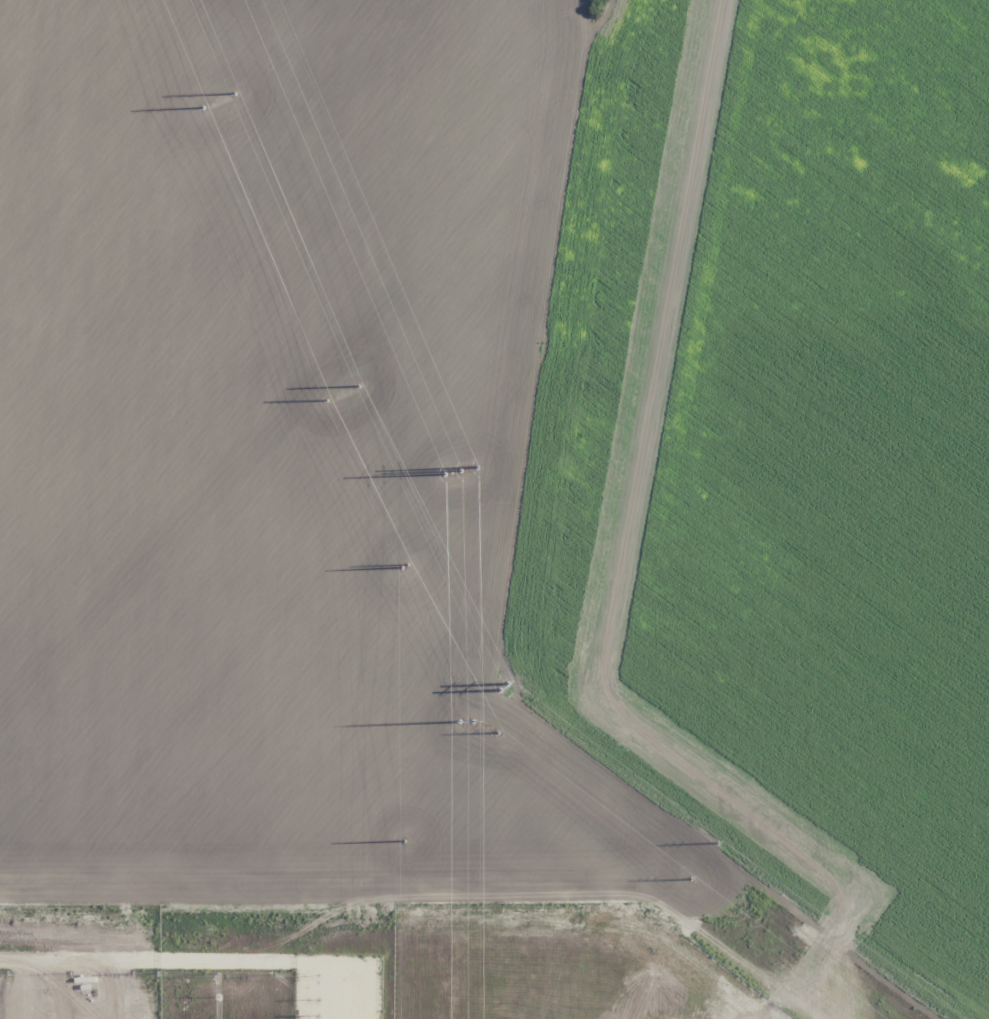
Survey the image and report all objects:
power tower: (233, 93)
power tower: (202, 107)
power tower: (357, 385)
power tower: (325, 399)
power tower: (463, 482)
crop: (494, 509)
power tower: (403, 563)
power tower: (495, 682)
power tower: (464, 713)
power tower: (495, 732)
power tower: (402, 842)
power tower: (717, 842)
power tower: (689, 879)

